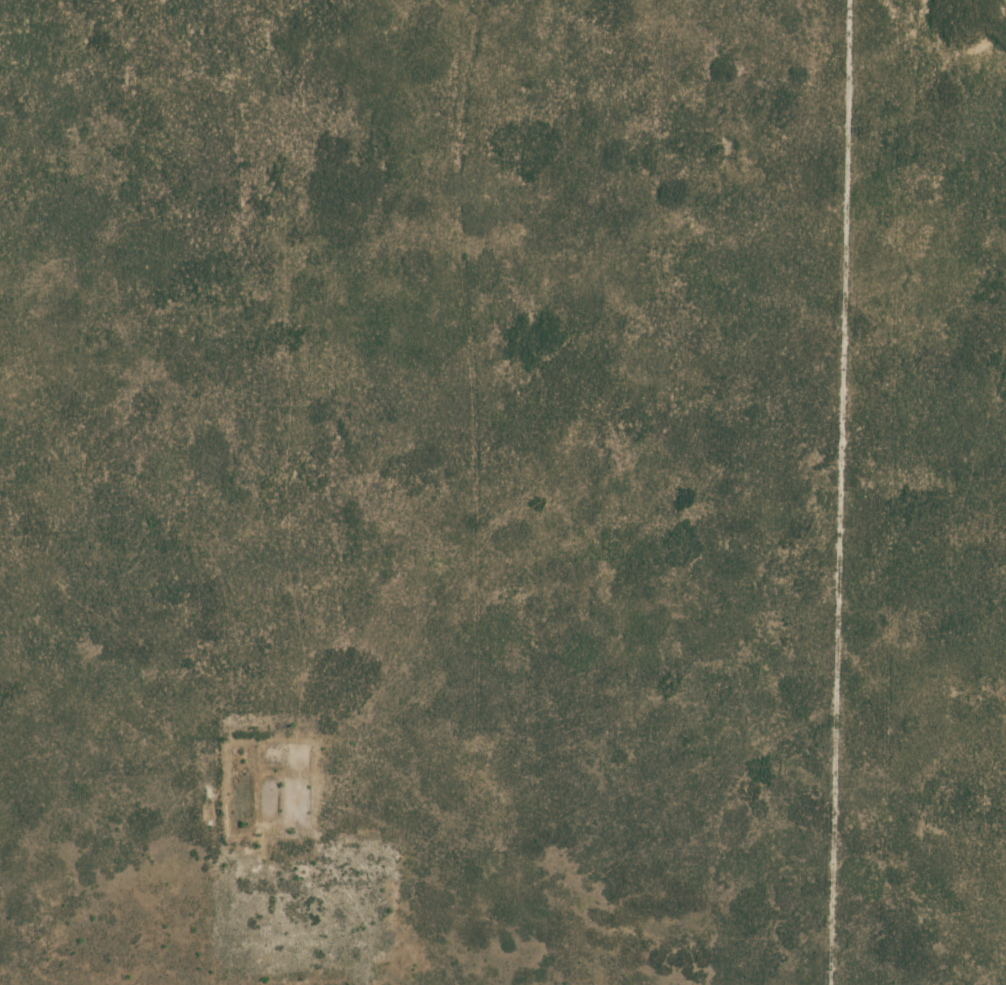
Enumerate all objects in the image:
road: (832, 492)

